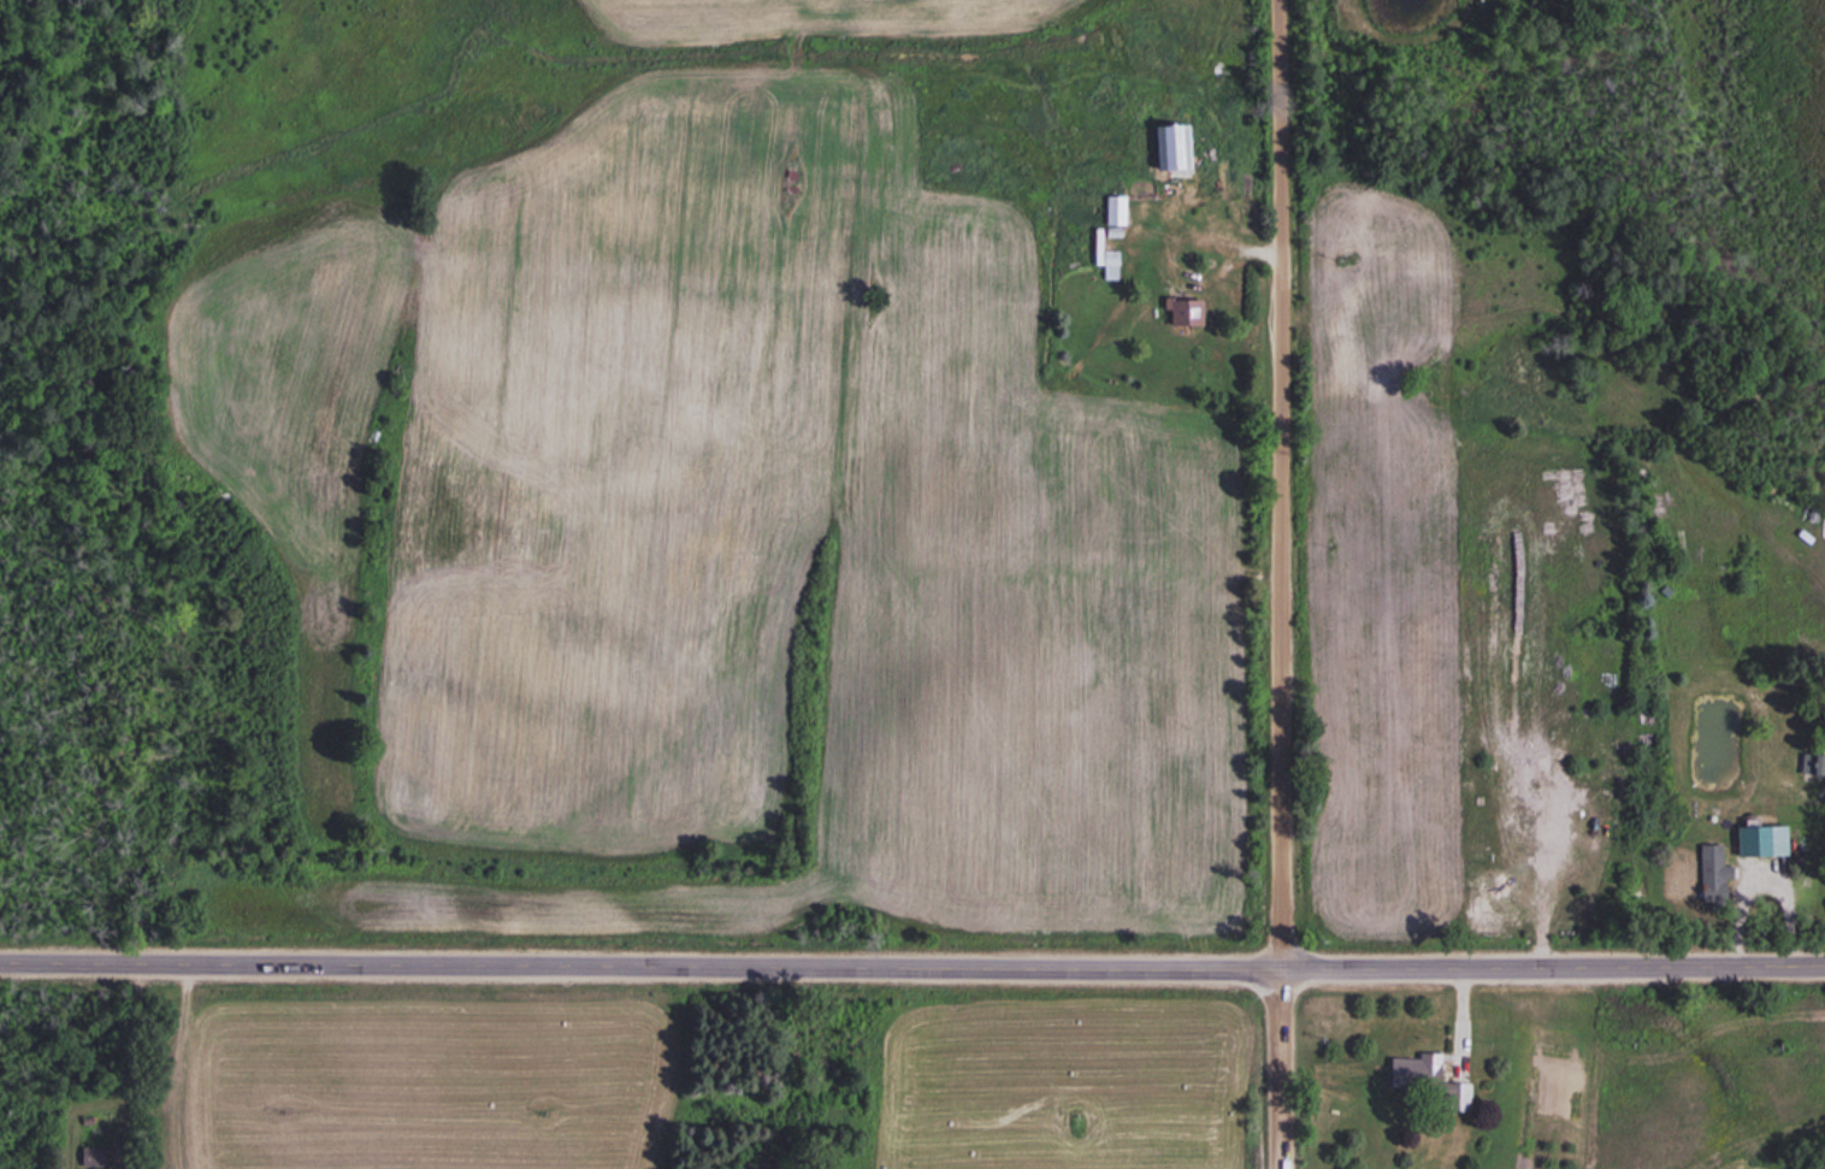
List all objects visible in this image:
building: (1173, 146)
building: (789, 178)
building: (1115, 208)
building: (1183, 311)
road: (1281, 584)
building: (1762, 834)
building: (1712, 875)
road: (912, 964)
building: (1427, 1079)
building: (91, 1155)

